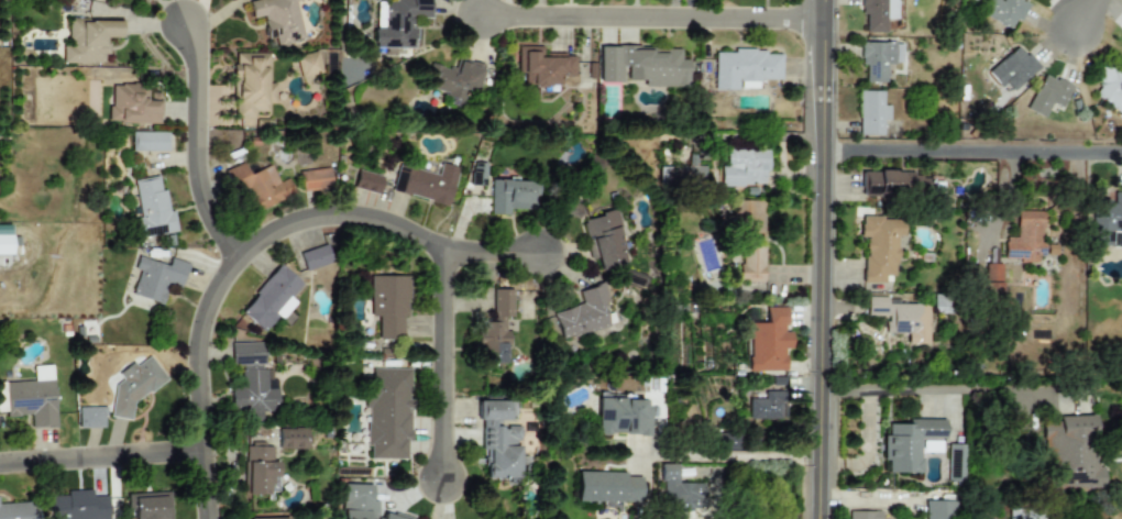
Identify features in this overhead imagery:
building: (95, 0)
building: (1004, 12)
road: (1090, 13)
building: (877, 14)
building: (277, 19)
road: (658, 19)
building: (396, 22)
building: (88, 41)
building: (1121, 44)
building: (879, 59)
building: (308, 65)
building: (642, 66)
building: (542, 67)
building: (745, 68)
building: (1013, 69)
building: (455, 79)
building: (252, 85)
building: (1109, 88)
building: (1047, 96)
building: (133, 104)
building: (871, 113)
building: (147, 142)
road: (199, 150)
road: (976, 151)
building: (743, 167)
building: (681, 175)
building: (315, 179)
building: (366, 181)
building: (425, 184)
building: (889, 184)
building: (260, 187)
building: (512, 196)
building: (154, 208)
building: (747, 216)
building: (1109, 222)
building: (1025, 239)
building: (4, 240)
building: (603, 240)
road: (258, 246)
building: (879, 246)
building: (315, 257)
road: (827, 258)
building: (750, 259)
building: (156, 278)
building: (992, 280)
building: (271, 299)
building: (388, 306)
building: (582, 313)
building: (902, 318)
building: (495, 330)
building: (768, 341)
road: (446, 365)
building: (253, 380)
building: (134, 387)
road: (945, 388)
building: (31, 401)
building: (768, 407)
building: (387, 412)
building: (621, 416)
building: (90, 418)
building: (293, 440)
building: (498, 441)
building: (909, 443)
building: (931, 446)
building: (1070, 454)
road: (102, 460)
road: (735, 460)
building: (956, 463)
building: (261, 472)
building: (606, 487)
building: (678, 492)
building: (356, 501)
building: (77, 506)
building: (148, 506)
building: (939, 509)
building: (18, 510)
building: (864, 515)
building: (282, 518)
building: (393, 518)

